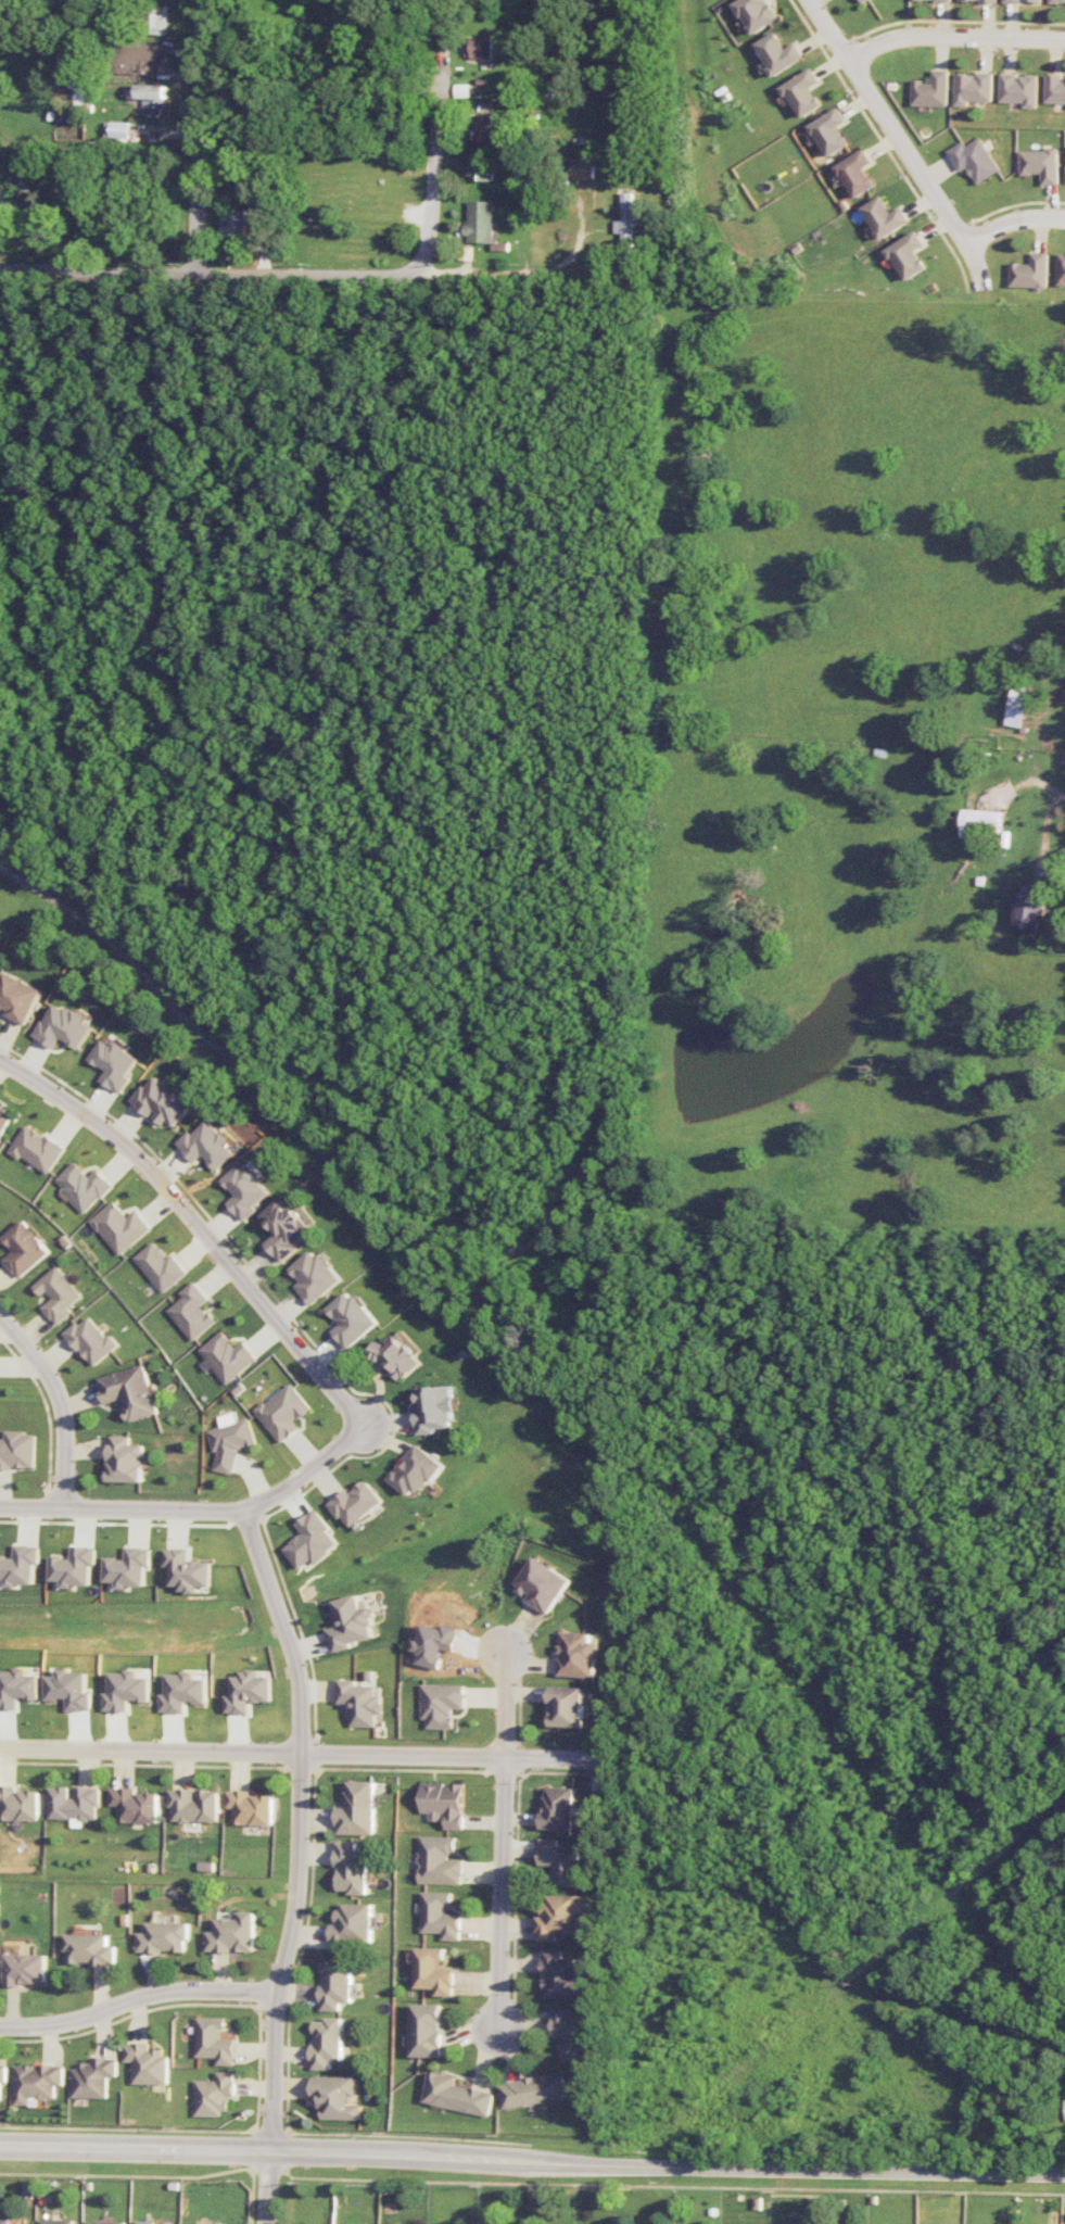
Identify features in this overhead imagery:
building: (863, 0)
building: (943, 0)
building: (980, 0)
building: (1024, 0)
building: (1057, 1)
building: (756, 13)
road: (954, 35)
building: (478, 47)
building: (778, 53)
building: (141, 56)
building: (973, 87)
building: (1019, 88)
building: (1055, 88)
building: (931, 89)
building: (803, 91)
building: (154, 98)
building: (482, 128)
building: (119, 129)
building: (831, 131)
road: (201, 137)
road: (902, 141)
building: (974, 159)
building: (1040, 164)
building: (479, 166)
building: (581, 168)
road: (435, 169)
building: (857, 173)
building: (885, 216)
building: (625, 219)
road: (1012, 220)
building: (479, 222)
building: (234, 226)
building: (908, 254)
building: (1061, 268)
building: (1030, 271)
road: (234, 275)
building: (1016, 705)
road: (1051, 789)
building: (981, 821)
building: (1031, 905)
building: (18, 997)
building: (63, 1026)
building: (114, 1063)
building: (163, 1100)
building: (4, 1117)
road: (295, 1124)
building: (206, 1145)
building: (36, 1148)
building: (83, 1186)
building: (244, 1190)
road: (198, 1224)
building: (119, 1226)
building: (284, 1227)
building: (23, 1248)
building: (159, 1266)
building: (314, 1276)
building: (56, 1293)
building: (191, 1311)
building: (351, 1318)
building: (90, 1340)
building: (227, 1355)
building: (396, 1356)
building: (128, 1391)
road: (58, 1401)
building: (434, 1407)
building: (282, 1412)
building: (229, 1439)
building: (16, 1450)
building: (124, 1459)
building: (416, 1469)
building: (355, 1502)
road: (195, 1508)
building: (312, 1540)
building: (20, 1565)
building: (74, 1566)
building: (129, 1567)
building: (187, 1570)
building: (544, 1583)
building: (351, 1622)
building: (576, 1655)
building: (249, 1691)
building: (360, 1702)
building: (441, 1703)
building: (565, 1705)
road: (305, 1752)
building: (74, 1803)
building: (443, 1803)
building: (18, 1804)
building: (135, 1805)
building: (193, 1805)
building: (249, 1807)
building: (557, 1808)
building: (357, 1809)
road: (500, 1837)
building: (438, 1860)
building: (560, 1860)
road: (299, 1862)
building: (351, 1868)
building: (440, 1915)
building: (562, 1916)
building: (353, 1924)
building: (232, 1933)
building: (163, 1936)
building: (89, 1949)
building: (25, 1969)
building: (433, 1971)
building: (560, 1975)
building: (335, 1983)
road: (136, 1997)
building: (426, 2030)
building: (570, 2034)
building: (212, 2040)
building: (326, 2042)
building: (145, 2062)
building: (3, 2074)
building: (93, 2076)
building: (37, 2081)
building: (532, 2089)
building: (213, 2094)
building: (456, 2094)
building: (335, 2097)
building: (1064, 2102)
road: (532, 2162)
building: (4, 2221)
building: (55, 2221)
building: (104, 2222)
building: (144, 2222)
building: (214, 2223)

